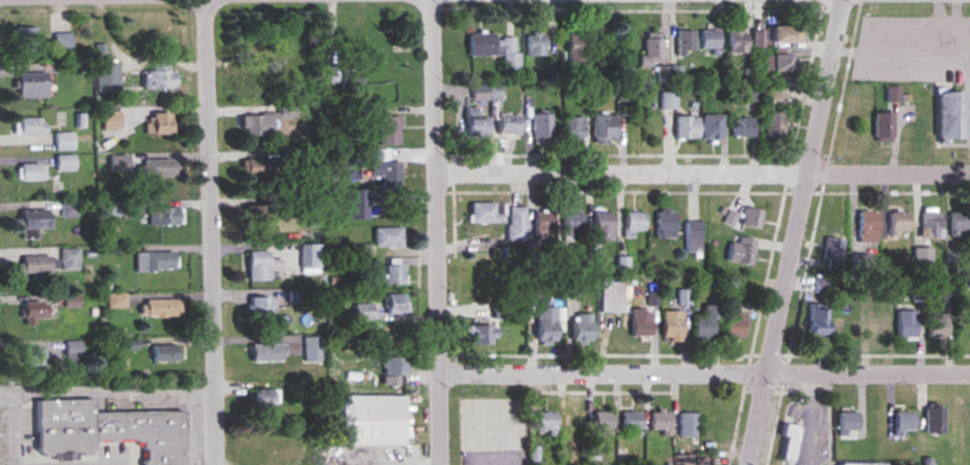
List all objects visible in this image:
road: (106, 0)
road: (940, 10)
road: (894, 20)
building: (287, 32)
building: (785, 32)
building: (23, 39)
building: (61, 40)
building: (710, 40)
building: (736, 40)
building: (684, 41)
building: (533, 43)
building: (574, 47)
building: (493, 49)
building: (650, 50)
road: (924, 59)
building: (778, 61)
road: (962, 69)
building: (158, 75)
building: (748, 75)
building: (105, 76)
building: (253, 79)
building: (350, 79)
building: (29, 84)
building: (484, 92)
building: (751, 92)
building: (892, 94)
building: (668, 100)
building: (773, 112)
building: (949, 114)
building: (109, 119)
building: (264, 122)
building: (157, 123)
building: (473, 123)
building: (505, 124)
building: (26, 126)
building: (602, 126)
building: (710, 126)
building: (539, 127)
building: (685, 127)
building: (742, 127)
building: (882, 127)
building: (572, 128)
building: (386, 130)
building: (62, 141)
building: (63, 162)
building: (116, 162)
building: (152, 169)
building: (383, 169)
building: (29, 171)
building: (258, 171)
road: (701, 173)
building: (354, 204)
building: (255, 213)
building: (482, 213)
building: (162, 215)
building: (730, 218)
building: (750, 218)
building: (29, 222)
building: (958, 222)
building: (515, 223)
building: (569, 223)
building: (632, 223)
building: (664, 223)
building: (898, 223)
building: (541, 224)
building: (931, 224)
building: (602, 225)
building: (867, 225)
road: (213, 232)
road: (434, 232)
road: (797, 232)
building: (384, 236)
building: (693, 236)
building: (592, 250)
building: (742, 251)
building: (833, 251)
building: (308, 258)
building: (67, 259)
building: (151, 261)
building: (31, 264)
building: (258, 265)
building: (390, 273)
building: (821, 285)
building: (609, 293)
building: (114, 300)
building: (69, 301)
building: (393, 303)
building: (258, 306)
building: (159, 308)
building: (500, 308)
building: (359, 310)
building: (31, 312)
building: (640, 322)
building: (705, 322)
building: (544, 323)
building: (906, 323)
building: (671, 324)
building: (735, 324)
building: (818, 324)
building: (963, 324)
building: (579, 326)
building: (937, 327)
building: (877, 329)
building: (477, 334)
building: (70, 350)
building: (159, 352)
building: (264, 352)
building: (30, 357)
building: (393, 365)
road: (703, 373)
road: (107, 392)
building: (260, 398)
building: (369, 419)
road: (808, 419)
building: (933, 419)
building: (602, 420)
building: (631, 420)
building: (546, 421)
building: (574, 421)
building: (658, 421)
building: (902, 422)
building: (847, 423)
building: (688, 424)
building: (108, 426)
road: (12, 428)
building: (788, 442)
building: (860, 464)

